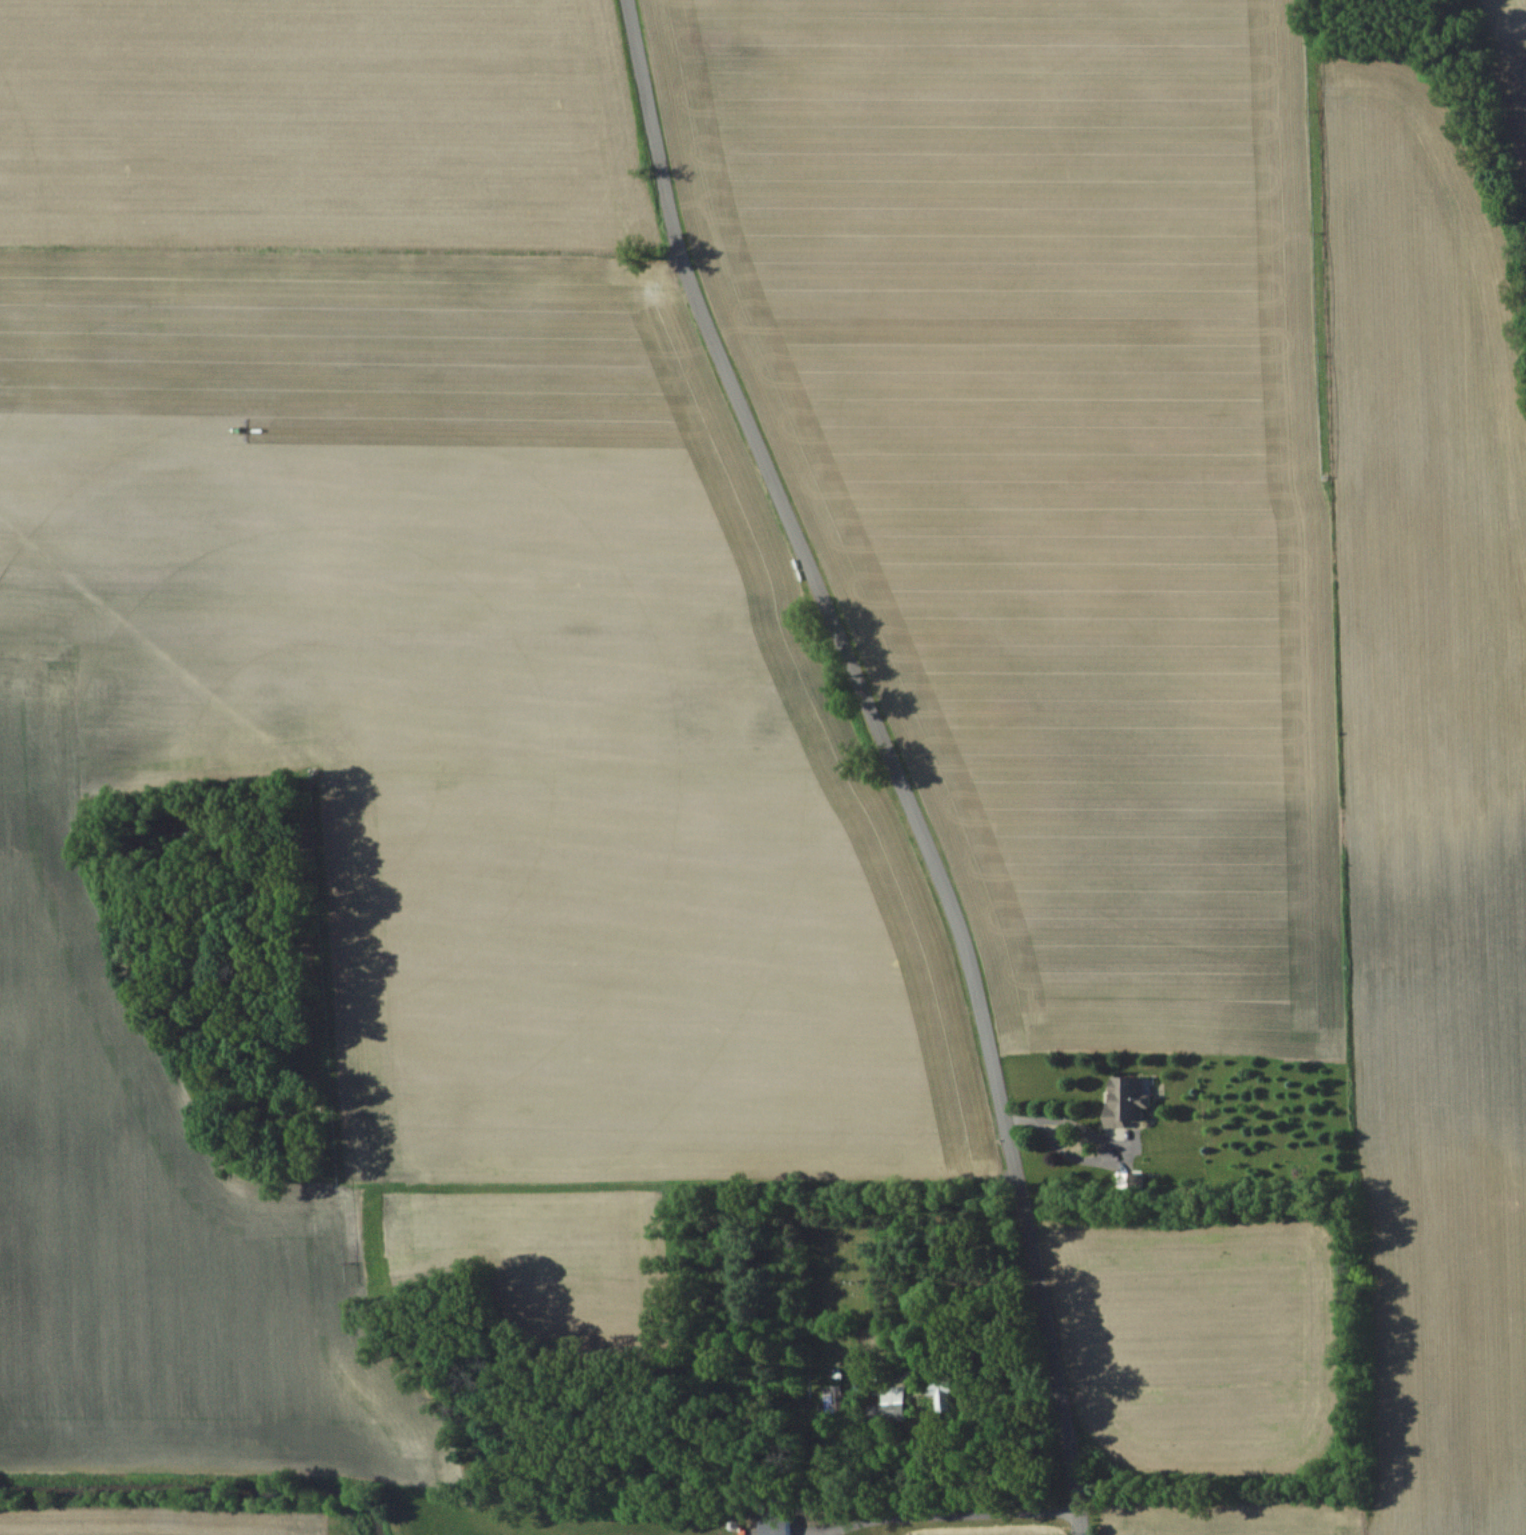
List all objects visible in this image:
road: (888, 757)
building: (1124, 1098)
road: (1053, 1120)
road: (933, 1285)
building: (895, 1395)
building: (941, 1397)
road: (953, 1515)
building: (772, 1524)

